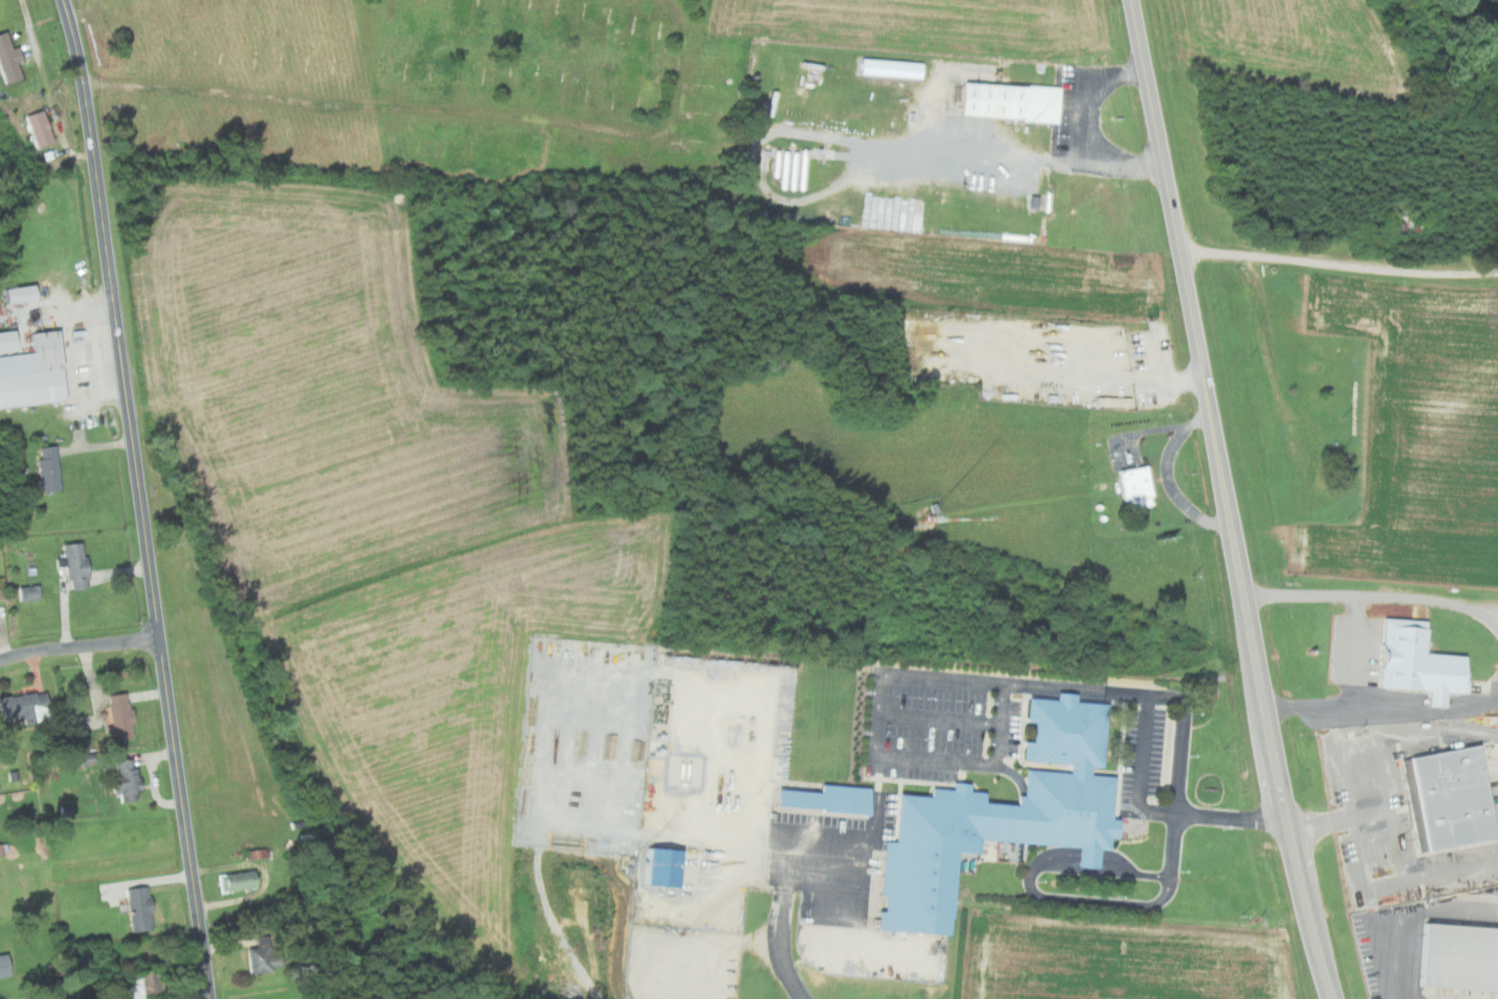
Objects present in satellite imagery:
building: (8, 60)
building: (1006, 100)
building: (37, 127)
road: (1341, 263)
building: (5, 339)
building: (31, 372)
building: (46, 468)
building: (1133, 486)
road: (140, 498)
road: (1231, 500)
building: (72, 565)
building: (26, 591)
road: (79, 647)
building: (1414, 662)
building: (23, 706)
building: (117, 715)
road: (1185, 721)
road: (875, 754)
building: (122, 779)
building: (1449, 796)
building: (823, 799)
building: (998, 815)
building: (657, 867)
building: (235, 880)
road: (784, 894)
building: (136, 908)
building: (1458, 957)
building: (256, 959)
building: (3, 965)
building: (137, 984)

